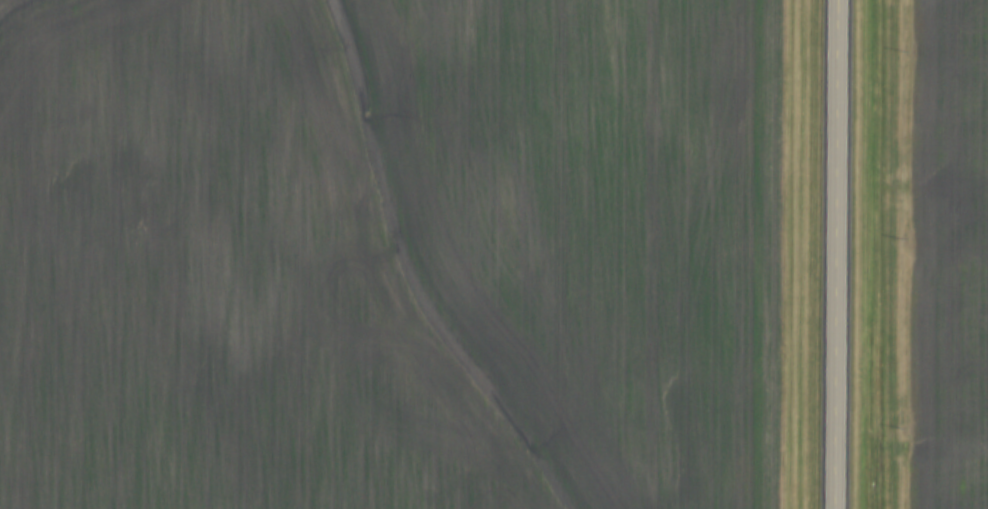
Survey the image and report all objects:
road: (834, 254)

